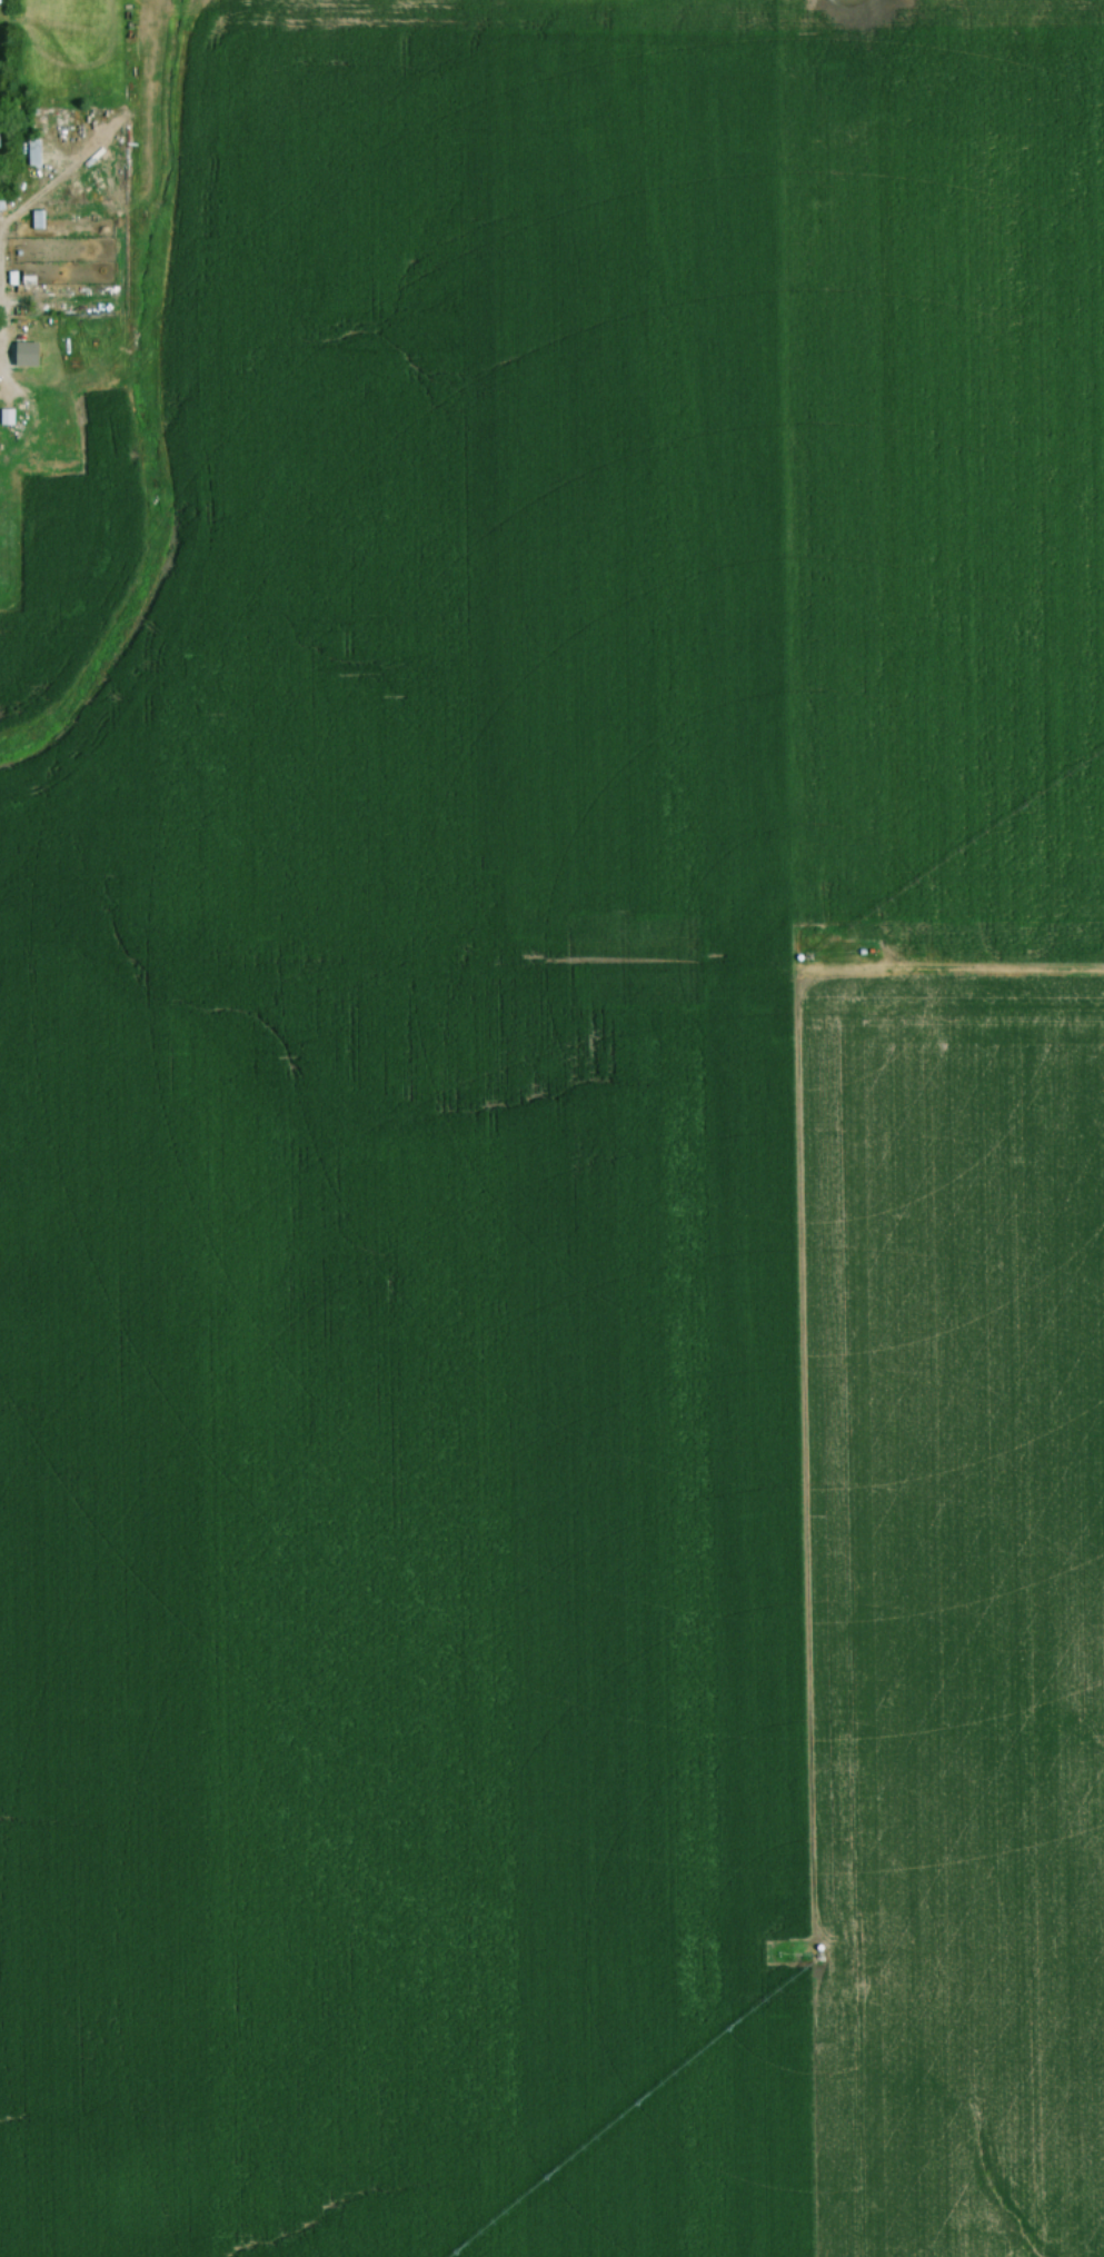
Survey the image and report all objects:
building: (31, 151)
building: (22, 352)

